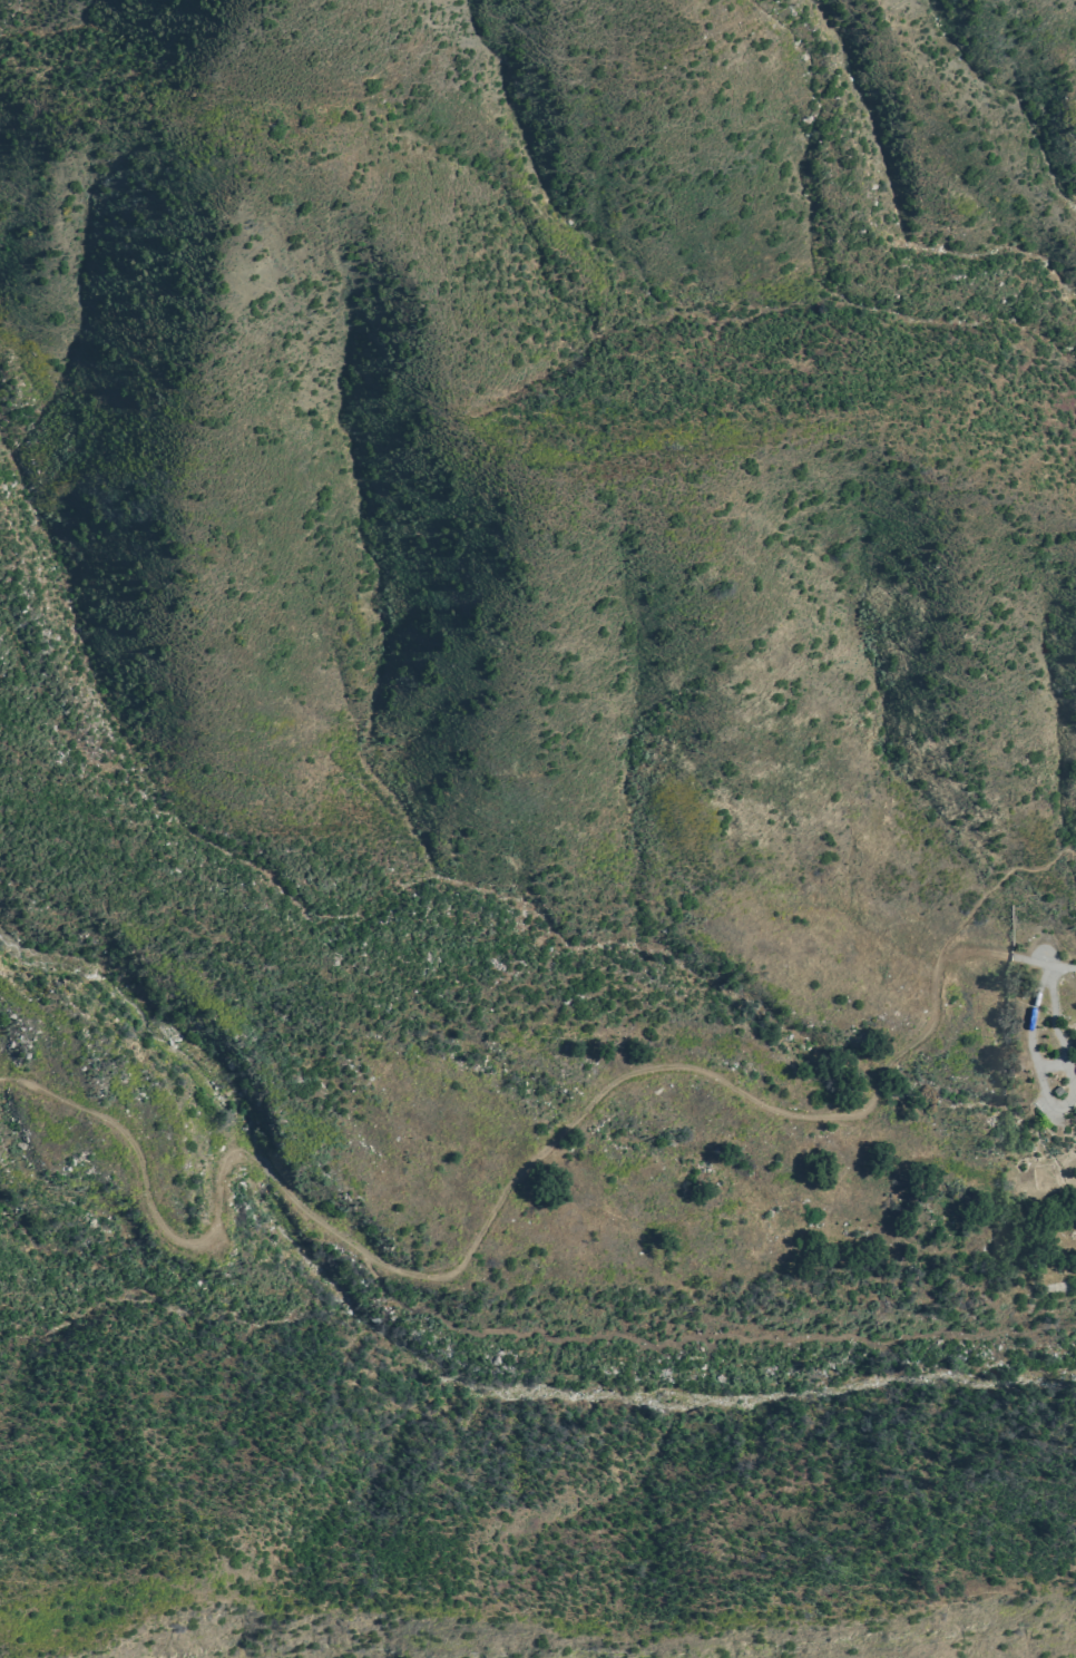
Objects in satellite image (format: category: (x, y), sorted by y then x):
road: (990, 888)
road: (1043, 964)
road: (1051, 1064)
road: (1056, 1104)
road: (486, 1220)
road: (701, 1335)

